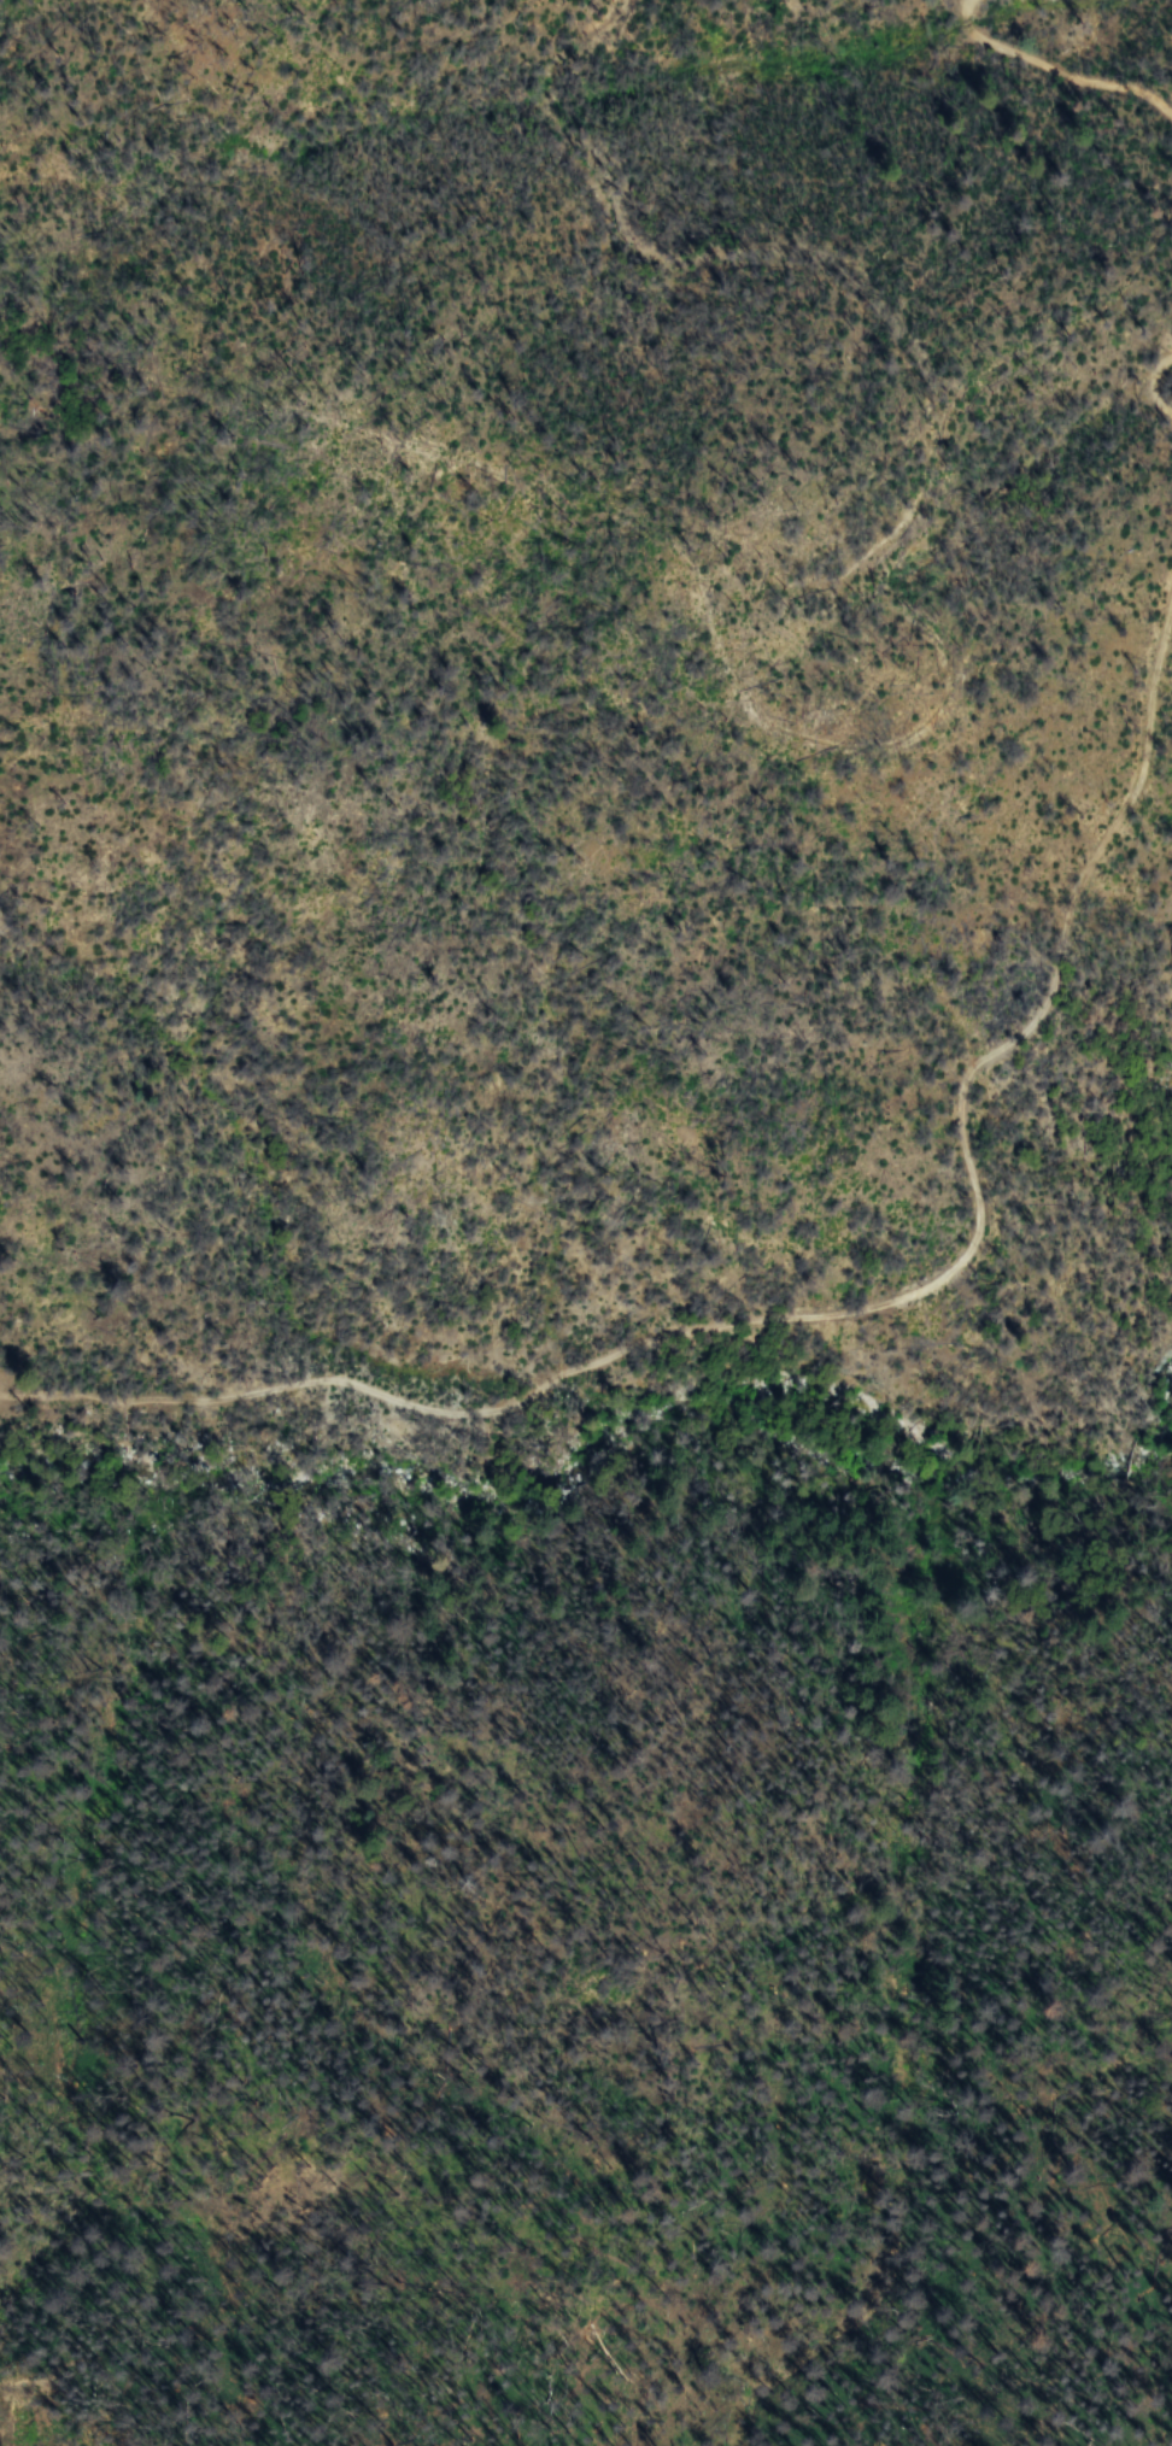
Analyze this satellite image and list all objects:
road: (1063, 60)
road: (907, 344)
road: (1152, 382)
road: (832, 1316)
road: (7, 1388)

